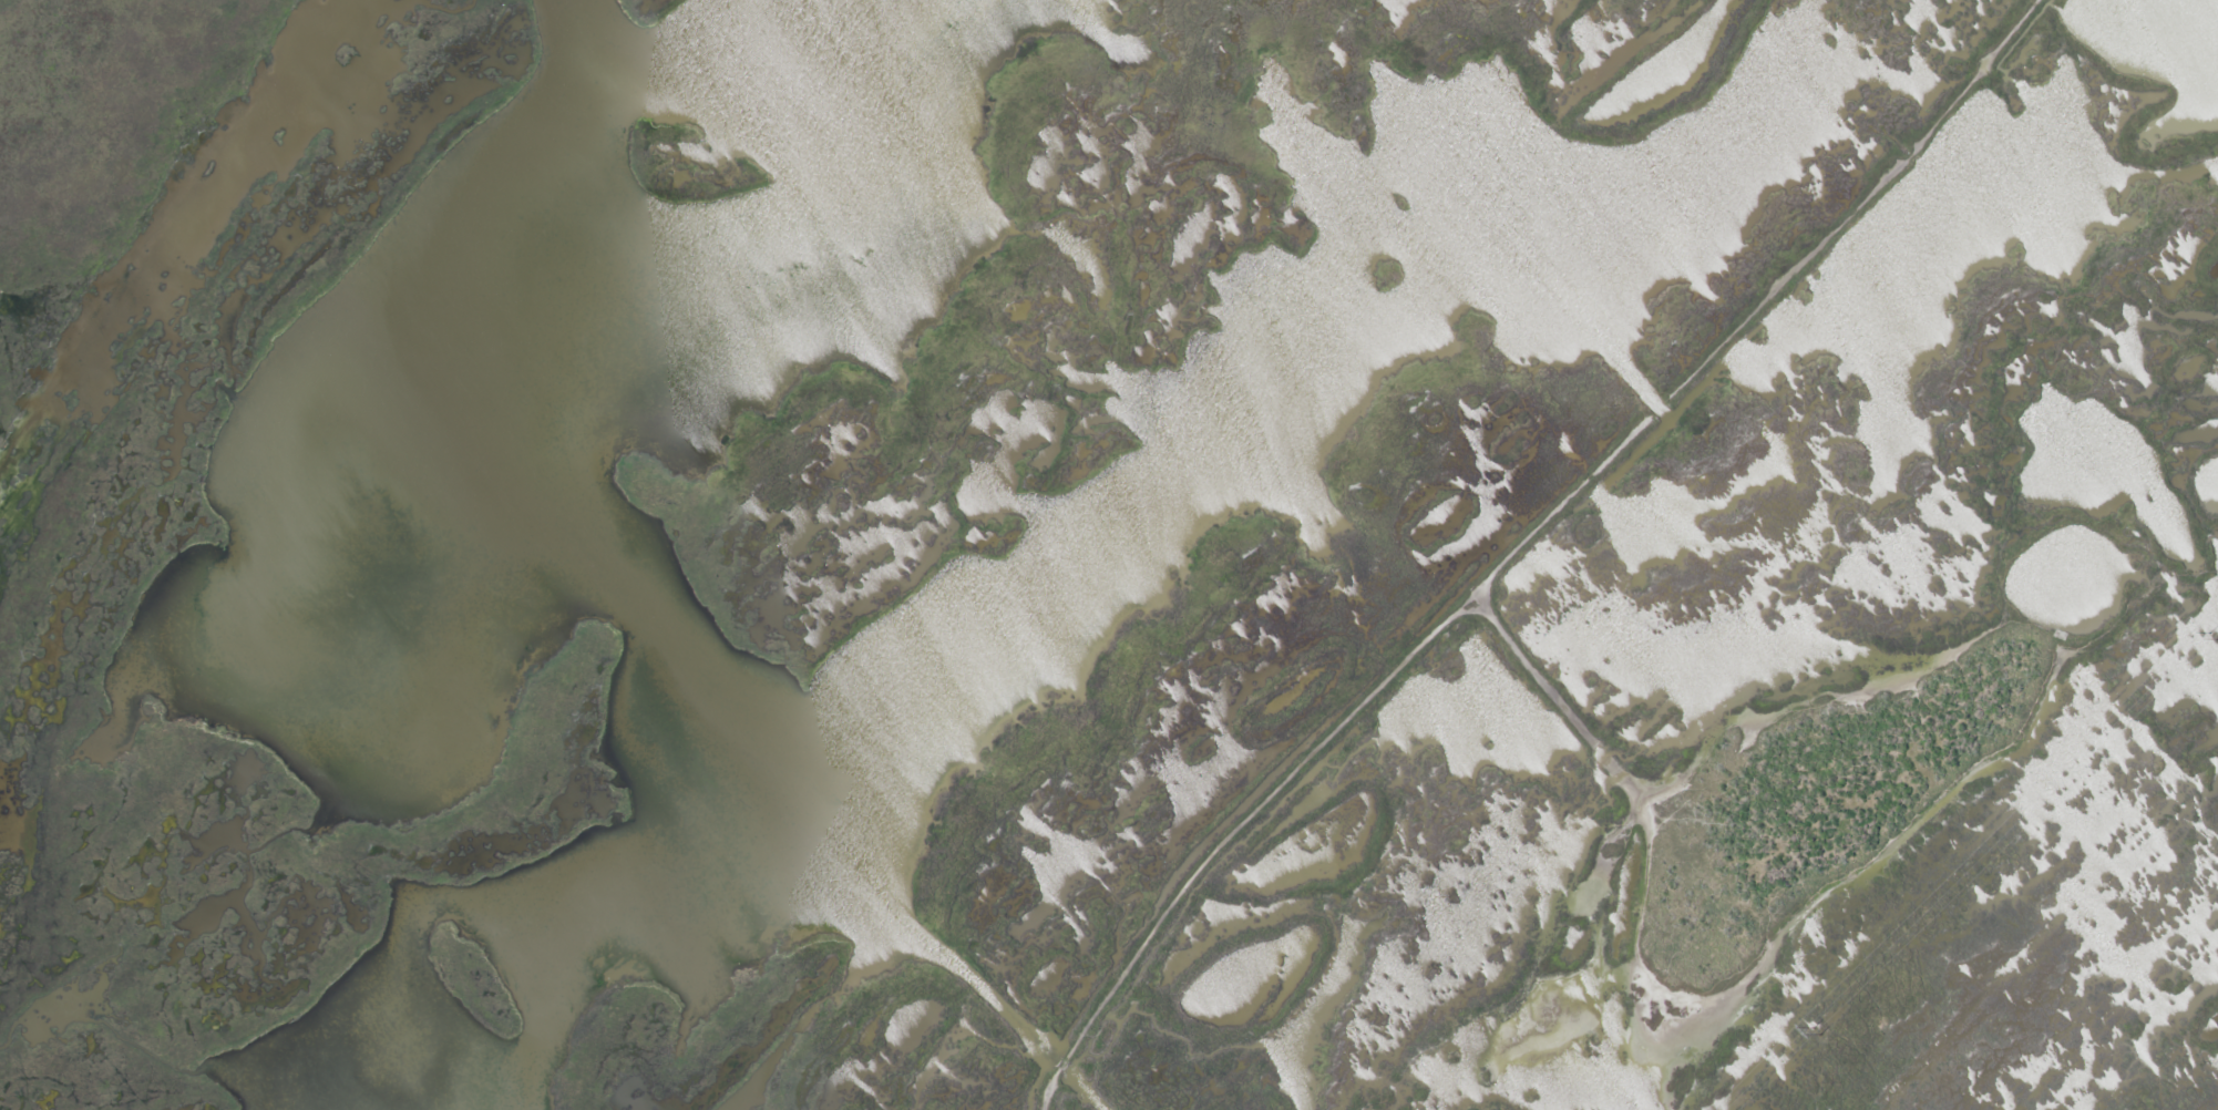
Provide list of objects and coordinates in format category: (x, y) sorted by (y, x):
power tower: (2214, 635)
power tower: (1818, 1030)

